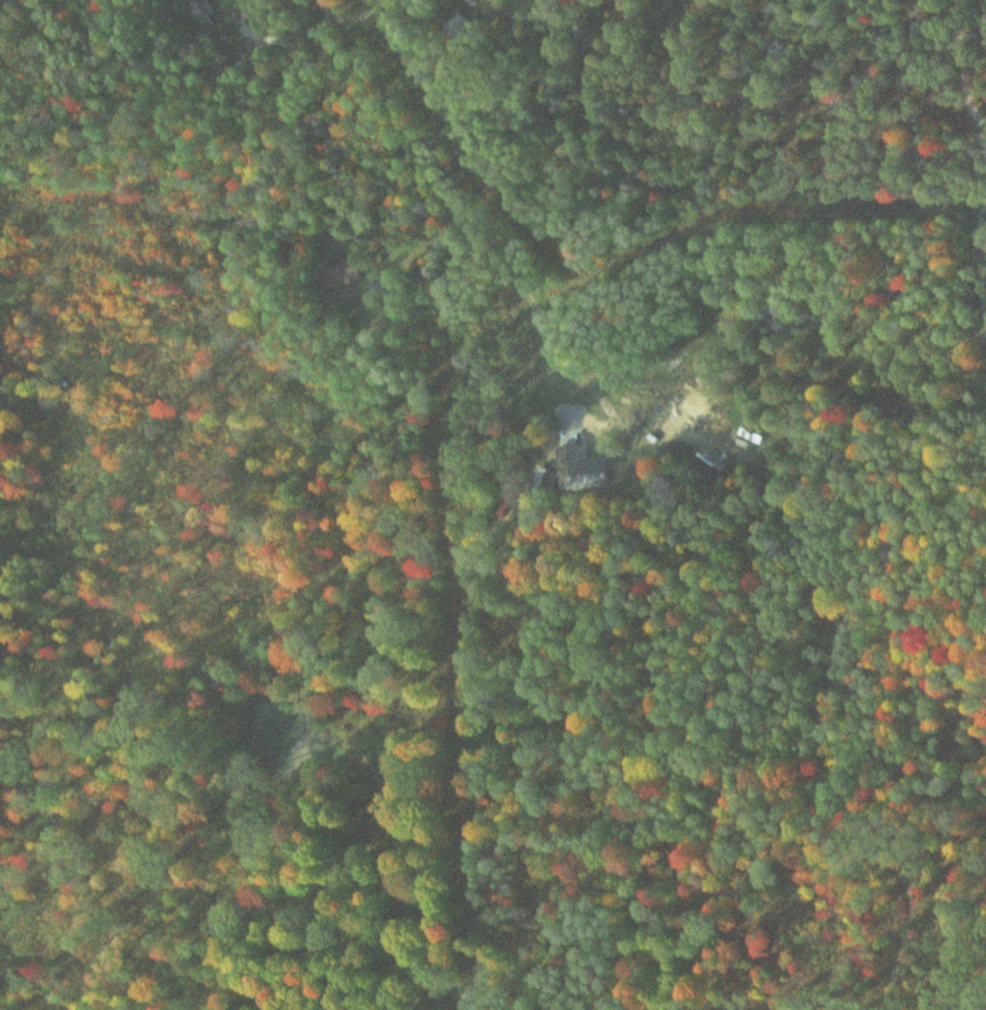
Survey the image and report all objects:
building: (203, 13)
road: (979, 52)
building: (345, 268)

